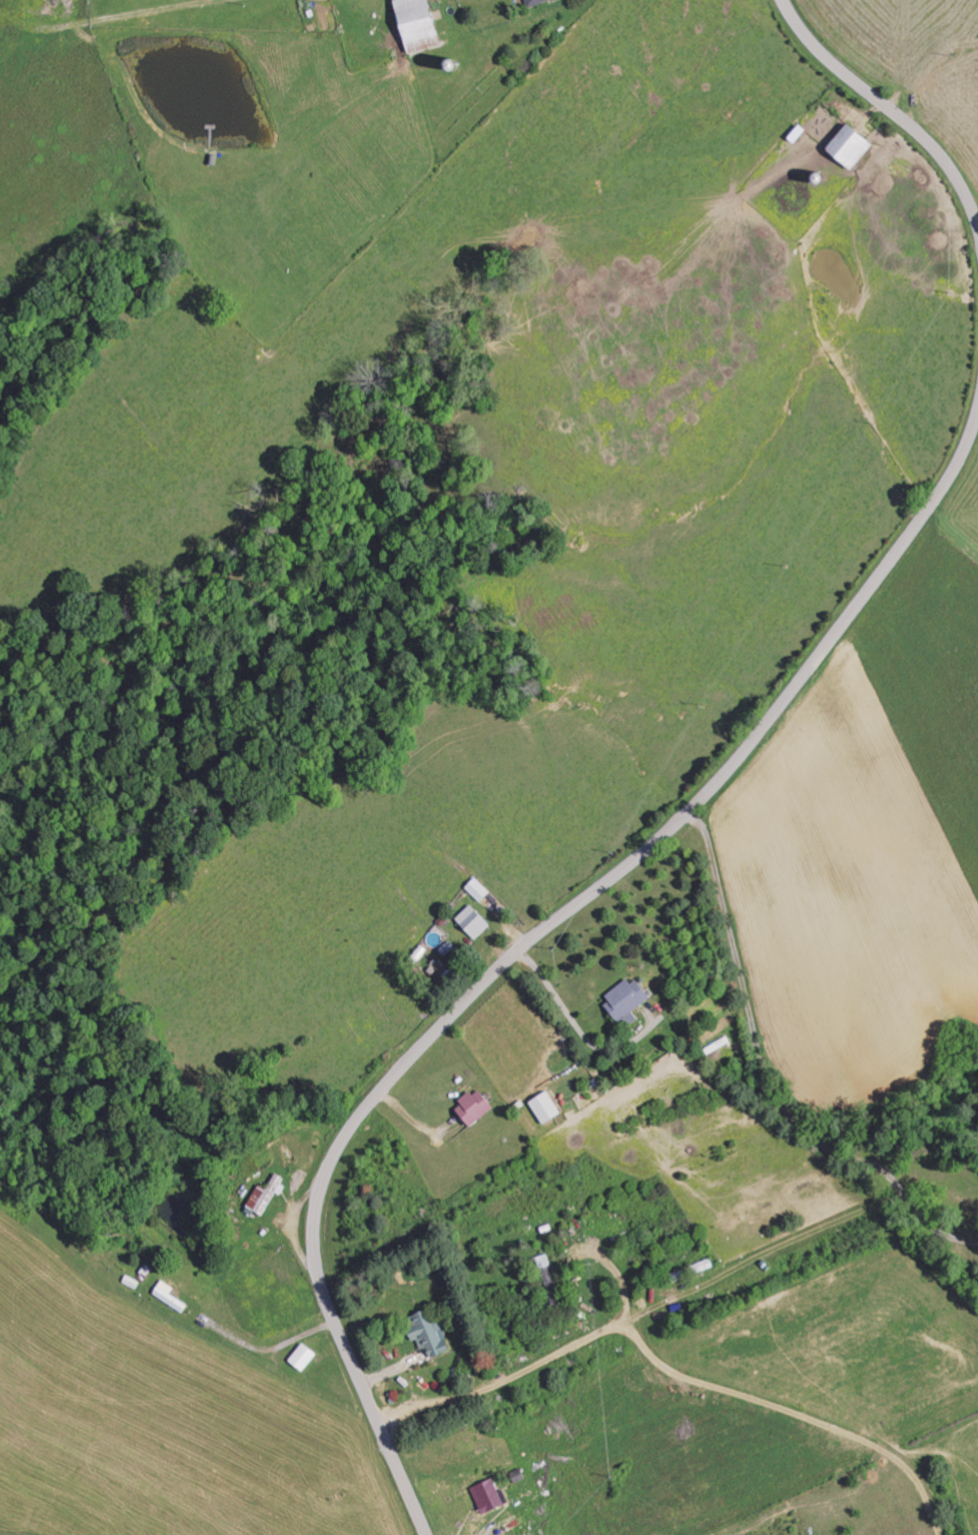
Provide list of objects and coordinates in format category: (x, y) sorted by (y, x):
building: (533, 2)
building: (414, 25)
road: (889, 109)
building: (846, 145)
road: (782, 349)
building: (475, 889)
building: (471, 921)
road: (534, 937)
building: (624, 1001)
building: (471, 1107)
building: (543, 1107)
building: (265, 1194)
building: (426, 1334)
building: (300, 1357)
building: (487, 1495)

